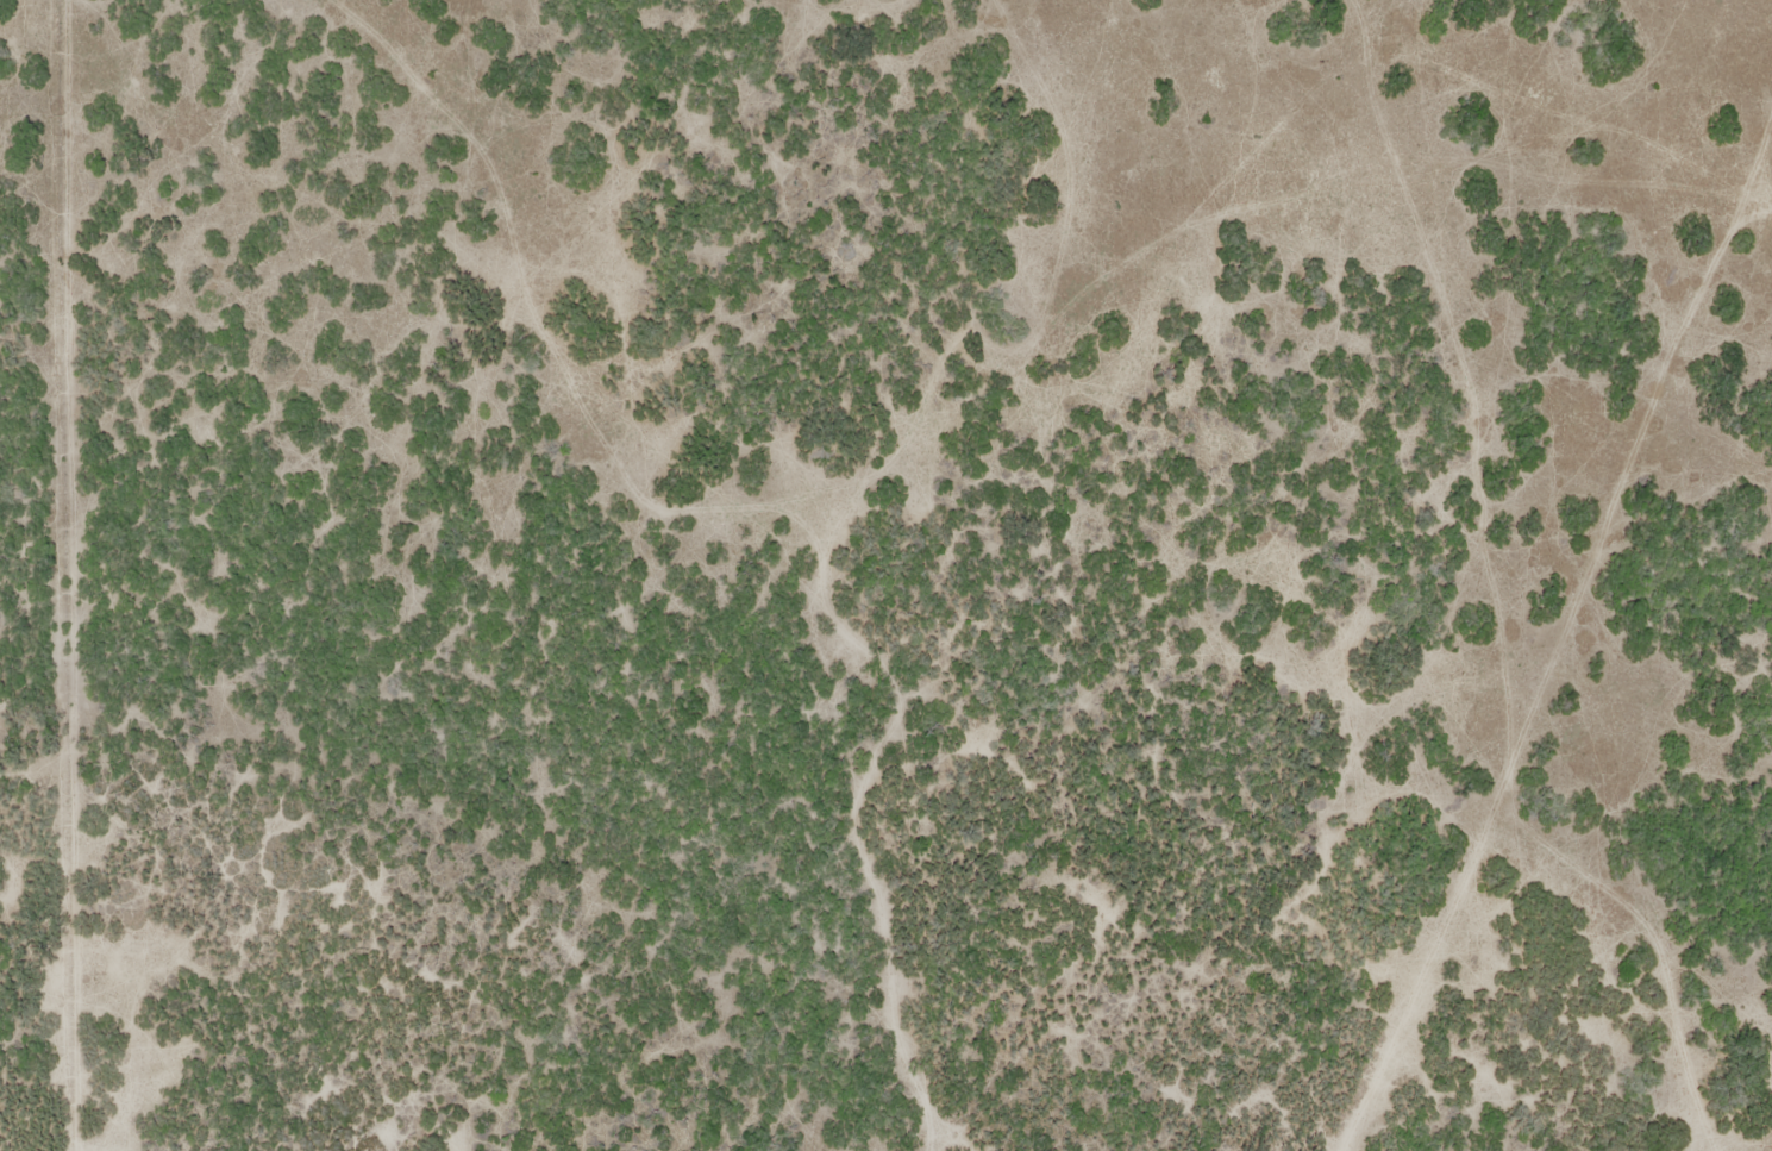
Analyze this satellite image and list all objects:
road: (1504, 574)

